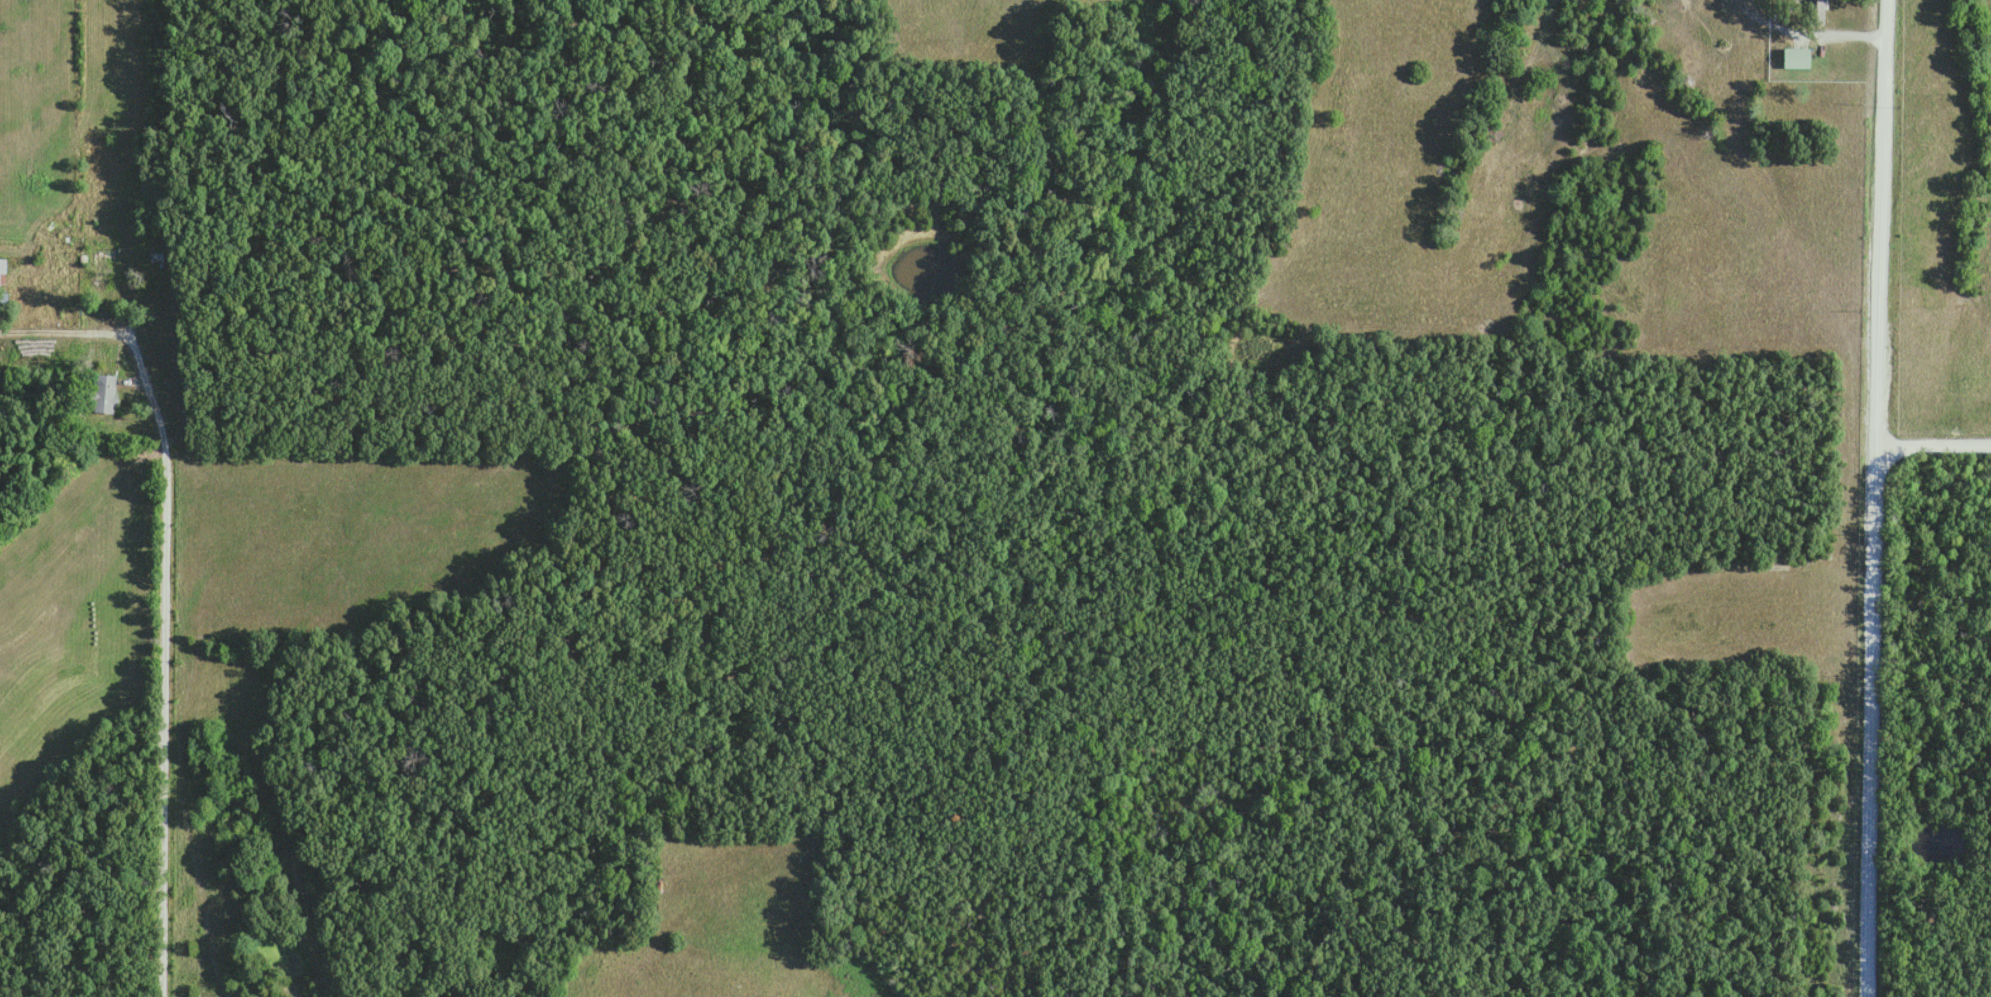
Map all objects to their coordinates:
building: (1816, 6)
road: (1811, 31)
building: (1796, 57)
building: (60, 235)
building: (2, 268)
building: (100, 274)
building: (105, 393)
road: (1935, 446)
road: (1875, 498)
road: (165, 610)

